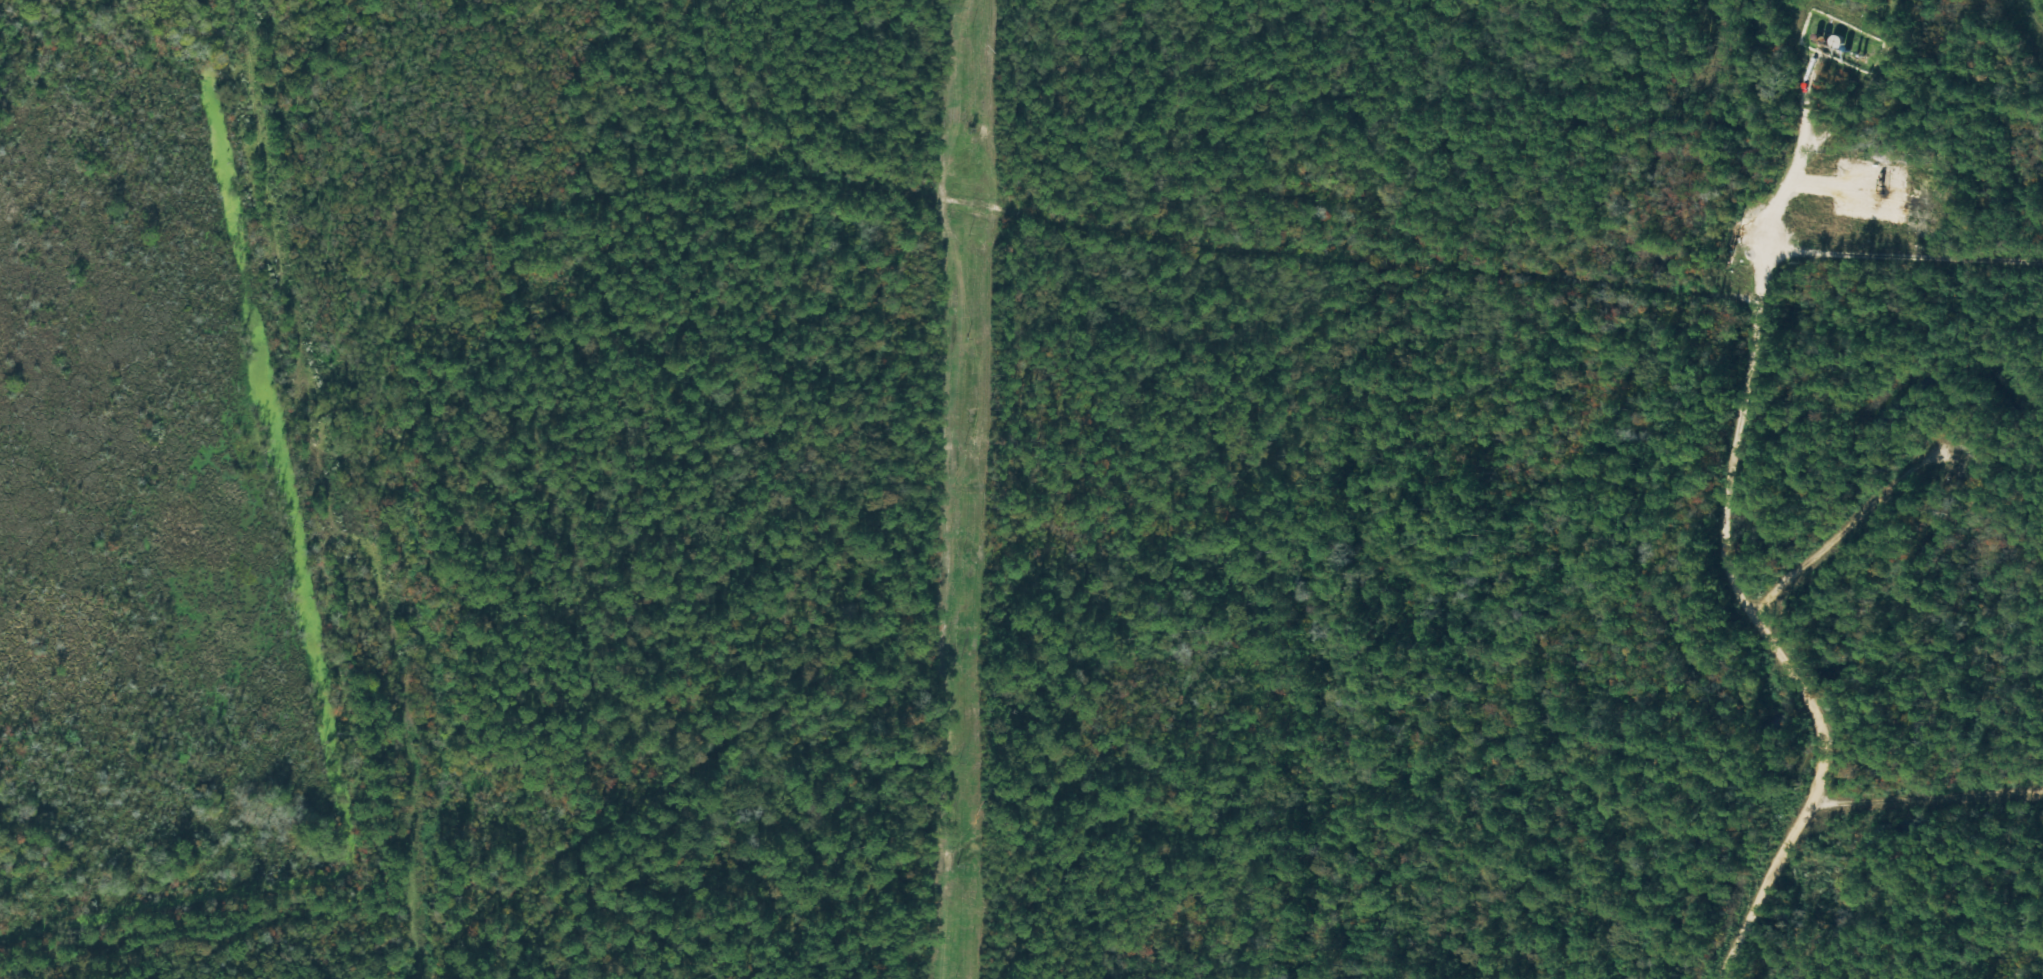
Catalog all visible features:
road: (1309, 243)
road: (1743, 405)
road: (1936, 780)
road: (1825, 786)
road: (2018, 792)
road: (434, 798)
road: (403, 922)

